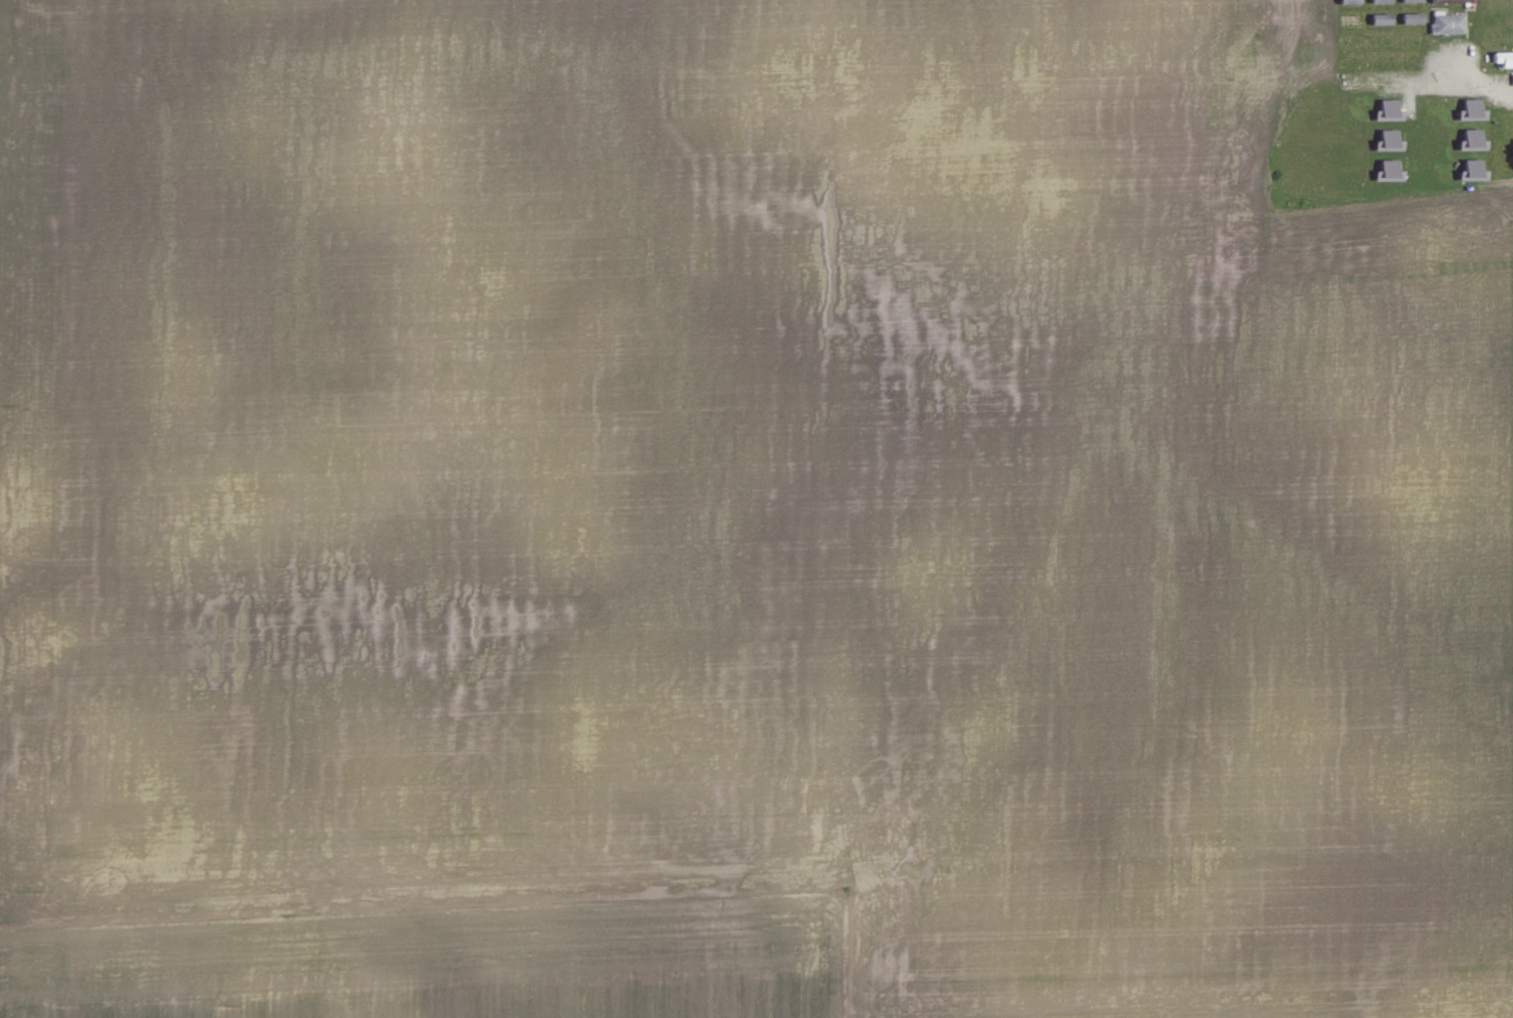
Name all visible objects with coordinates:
building: (1506, 58)
road: (1470, 89)
building: (1473, 106)

